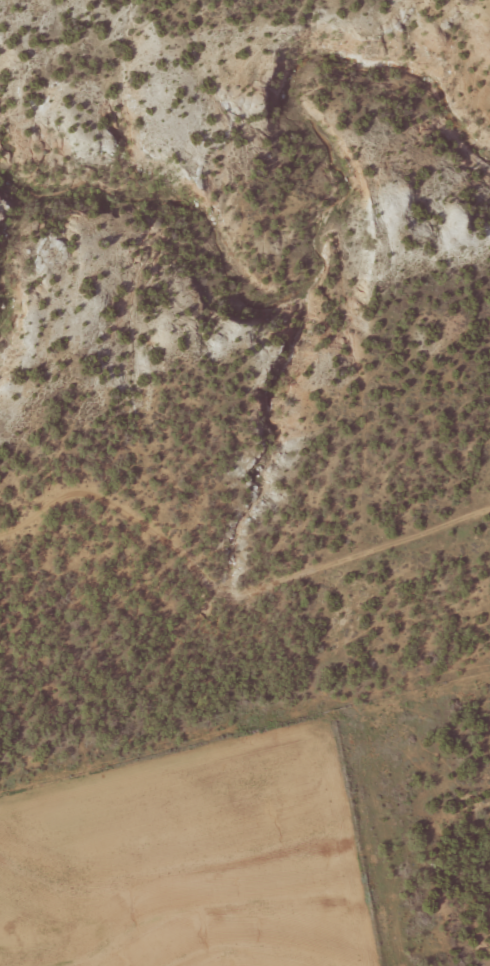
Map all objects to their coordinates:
road: (280, 733)

